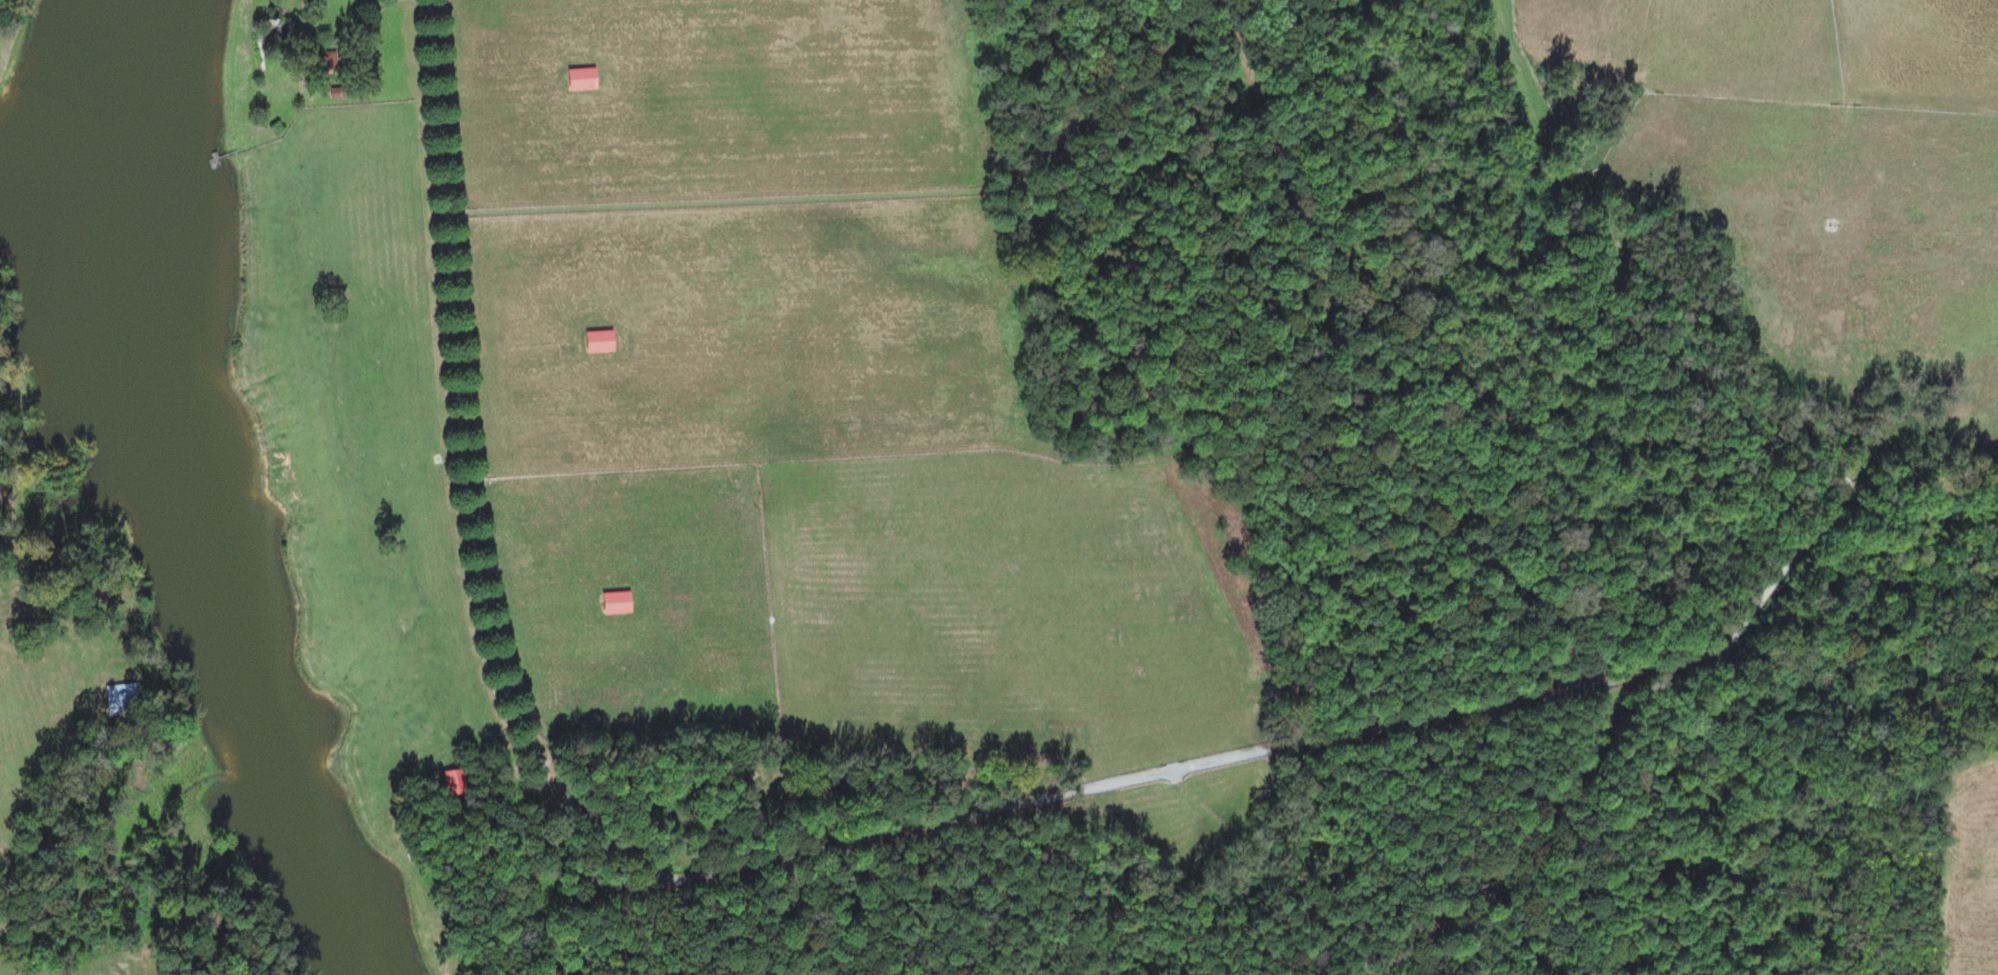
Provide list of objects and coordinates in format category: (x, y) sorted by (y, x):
building: (585, 78)
building: (603, 341)
building: (620, 602)
building: (123, 699)

